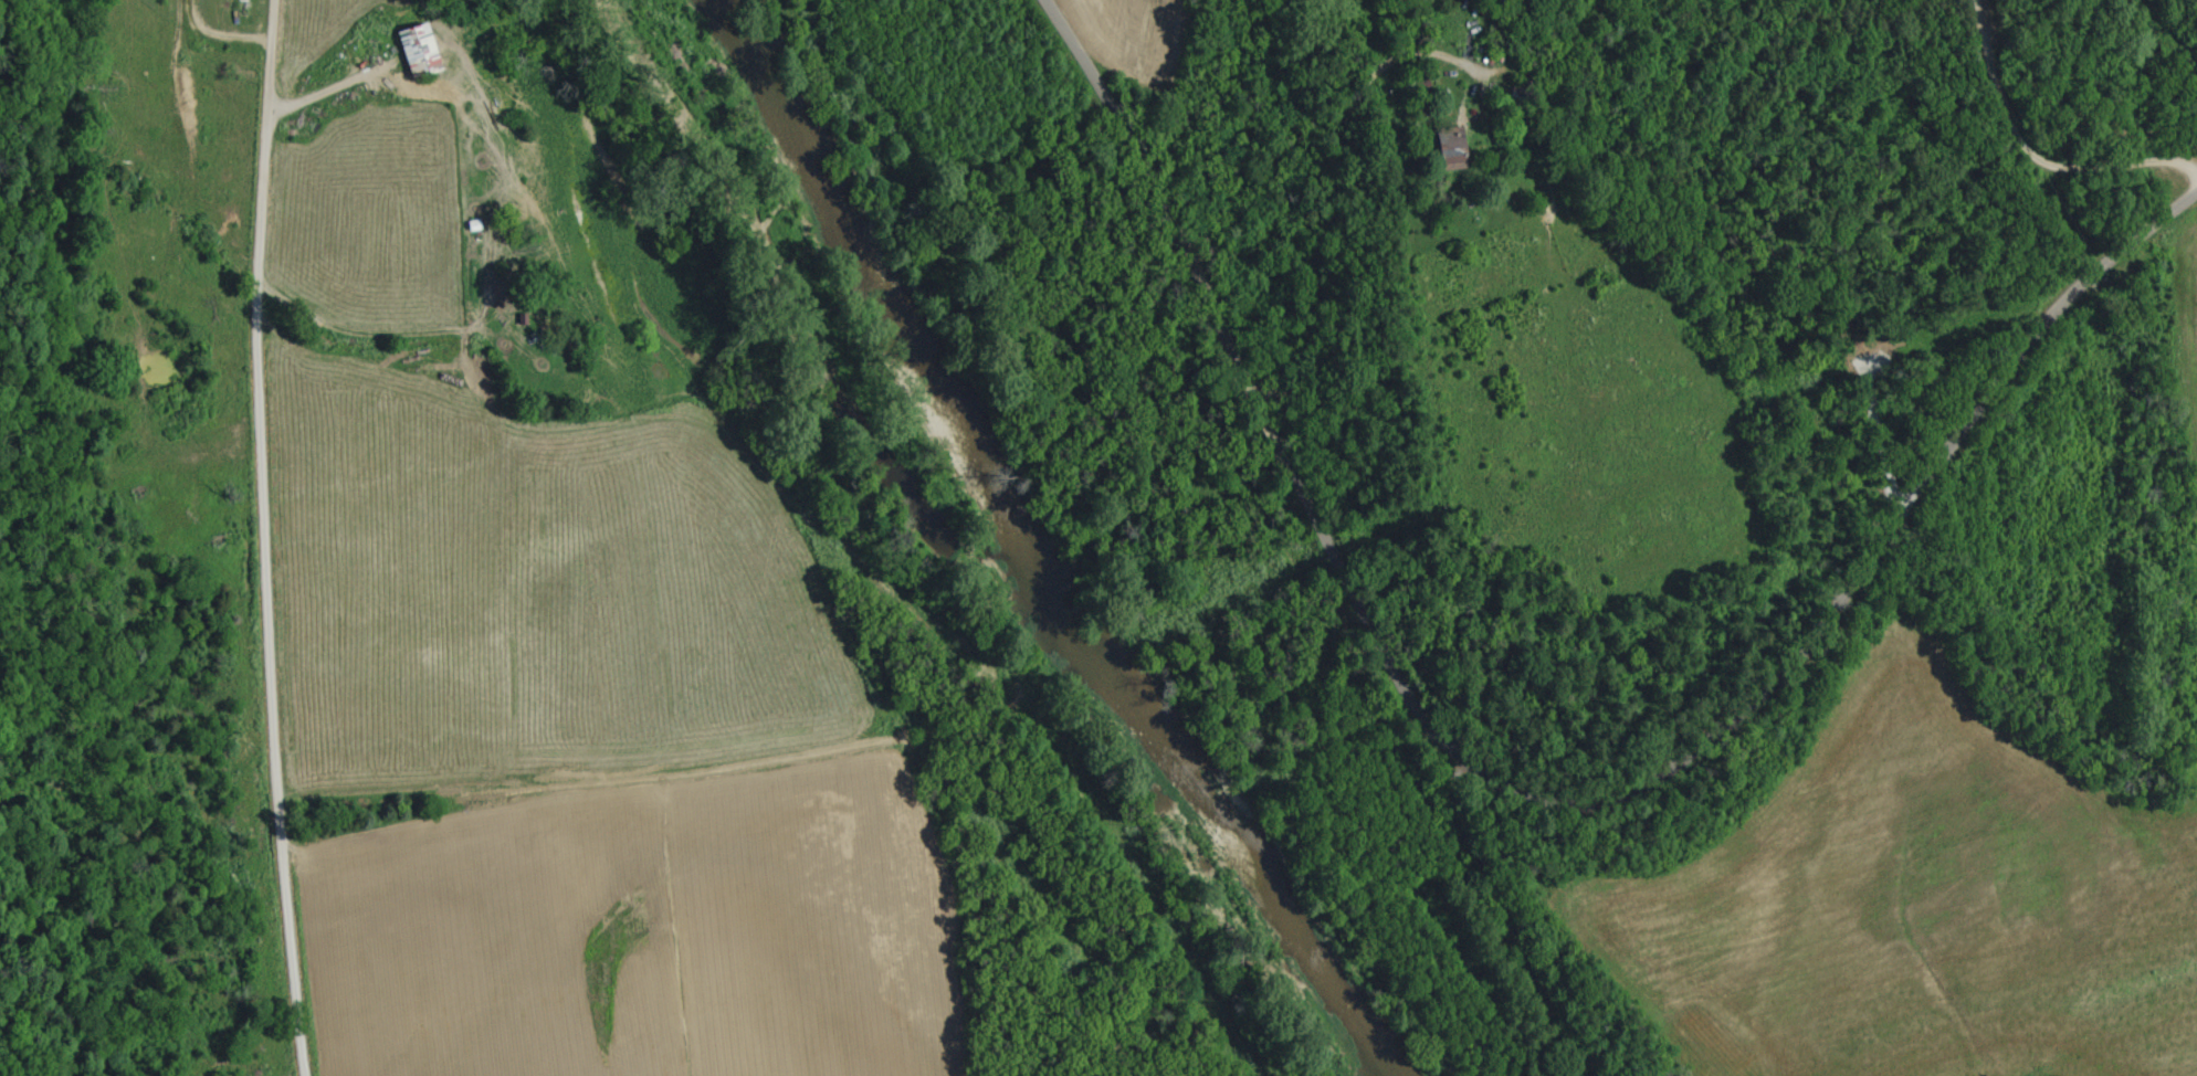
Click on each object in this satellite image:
crop: (1129, 38)
building: (421, 51)
road: (334, 89)
road: (2033, 154)
road: (1338, 187)
crop: (2190, 348)
road: (267, 538)
river: (1032, 541)
crop: (550, 664)
road: (1531, 789)
crop: (1912, 904)

